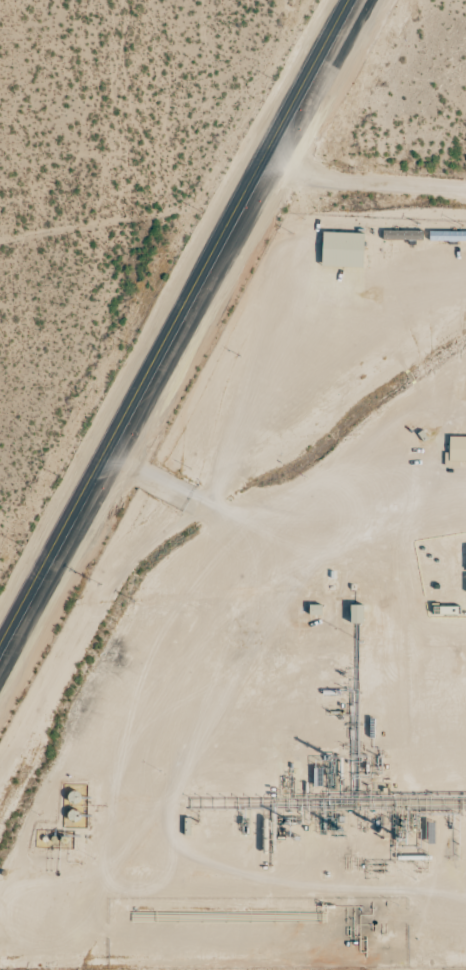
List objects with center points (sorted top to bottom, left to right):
road: (365, 177)
road: (118, 216)
building: (449, 236)
building: (346, 250)
road: (178, 328)
building: (457, 452)

